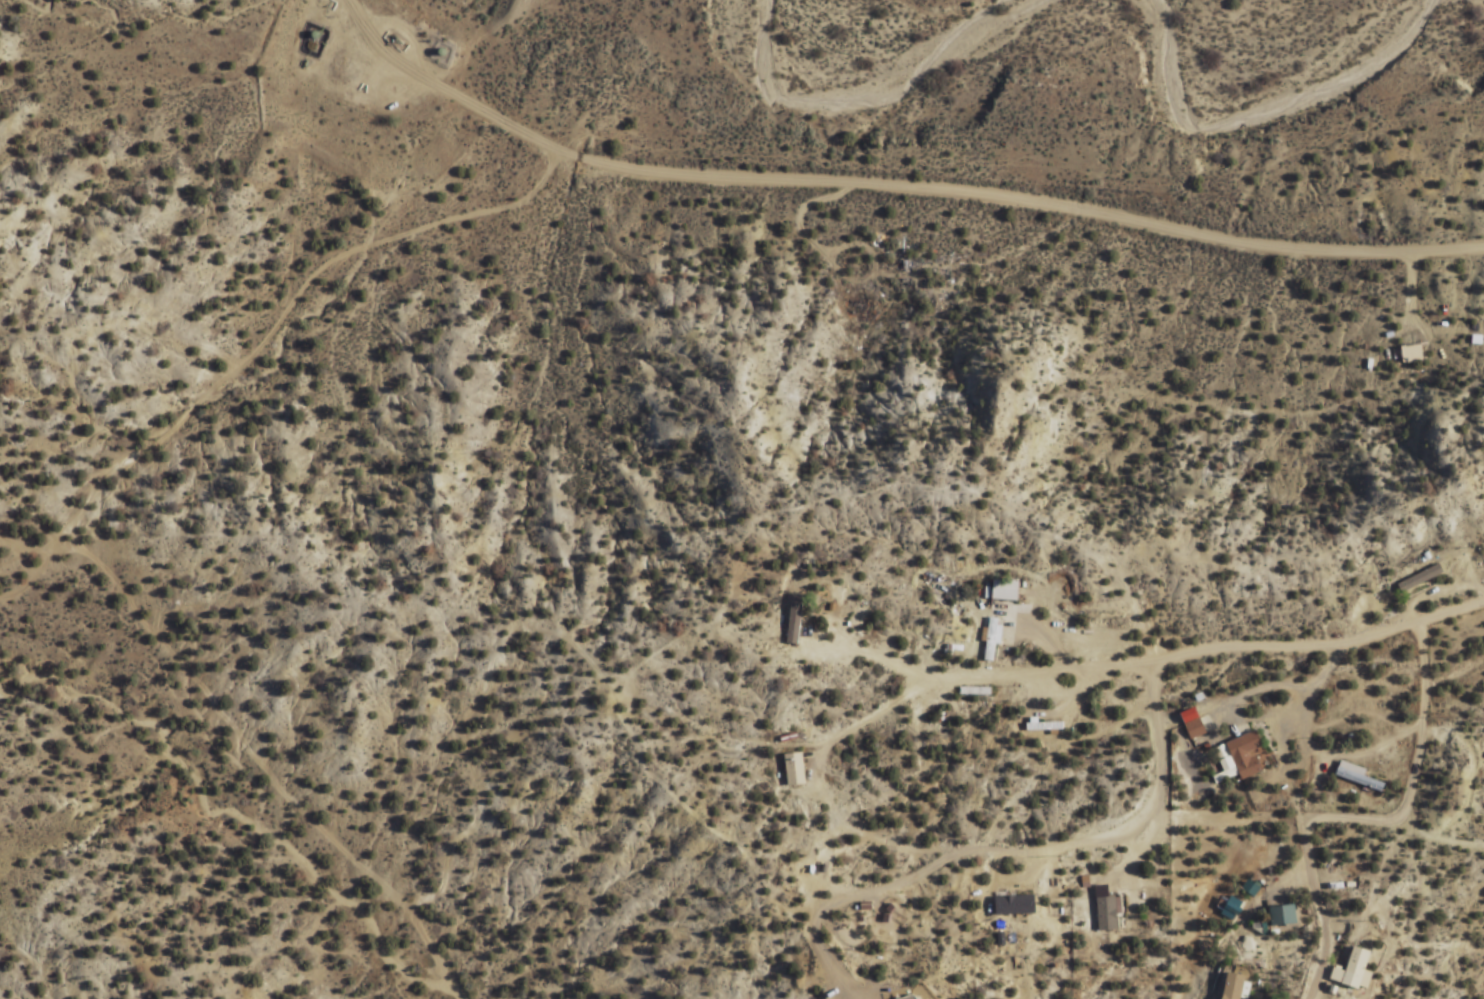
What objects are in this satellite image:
river: (911, 60)
river: (1301, 67)
road: (887, 184)
building: (857, 307)
road: (263, 337)
building: (1411, 352)
road: (71, 538)
building: (1419, 577)
road: (121, 589)
building: (1003, 590)
building: (793, 619)
building: (991, 638)
road: (1203, 651)
building: (1045, 726)
building: (1194, 728)
building: (1244, 753)
building: (793, 769)
building: (1356, 775)
building: (1013, 905)
building: (1228, 905)
building: (1282, 914)
building: (1106, 915)
building: (1350, 968)
building: (1232, 986)
building: (908, 996)

